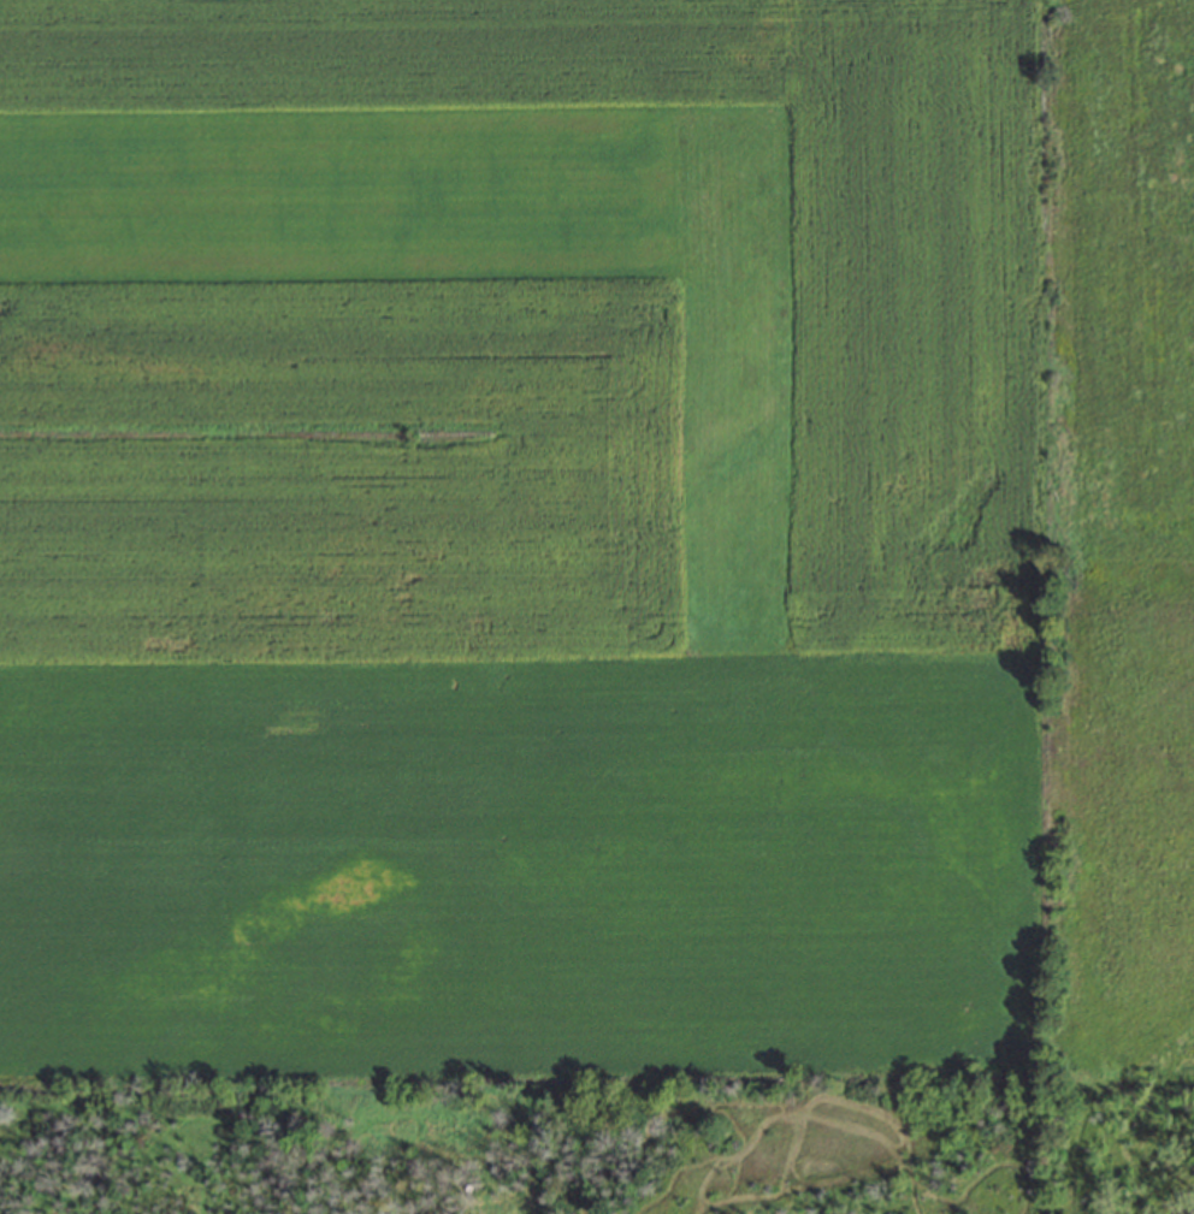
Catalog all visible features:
road: (1074, 1144)

